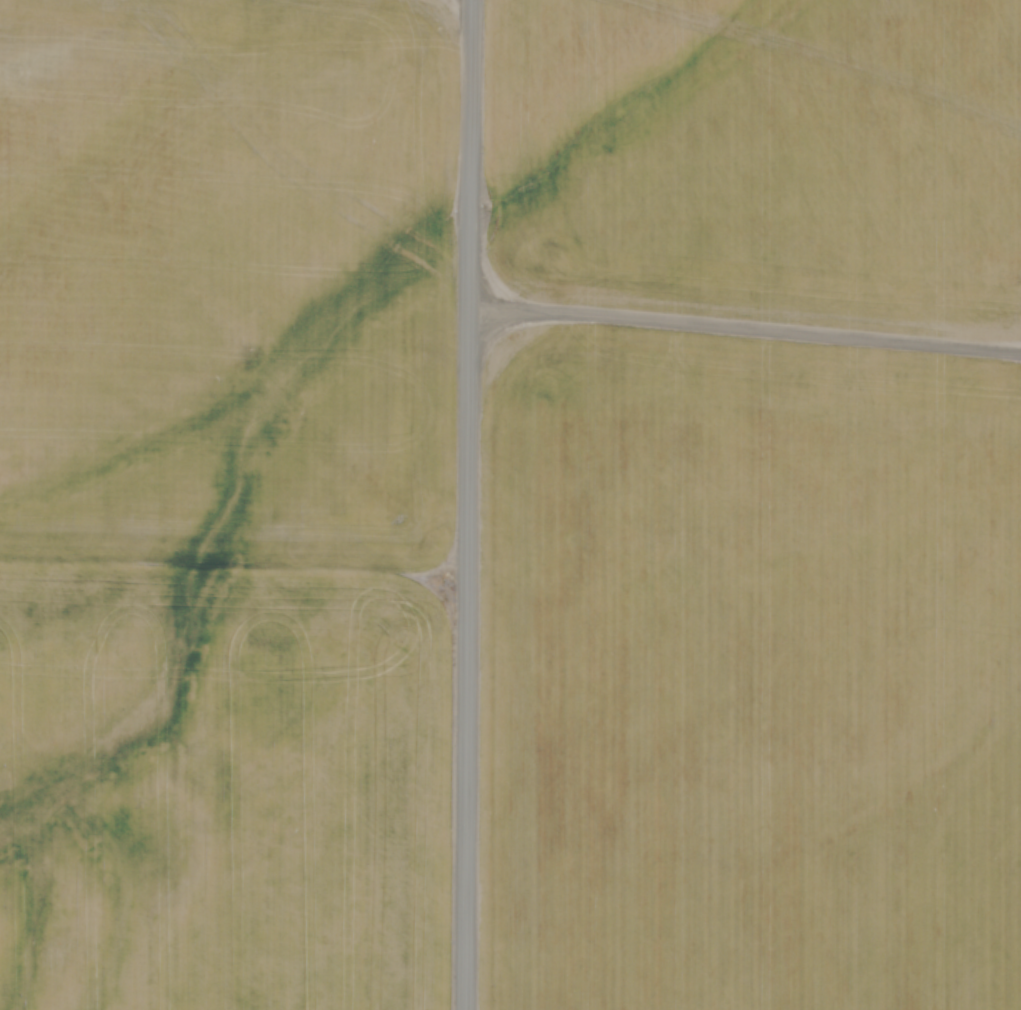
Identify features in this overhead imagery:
road: (742, 320)
road: (462, 505)

